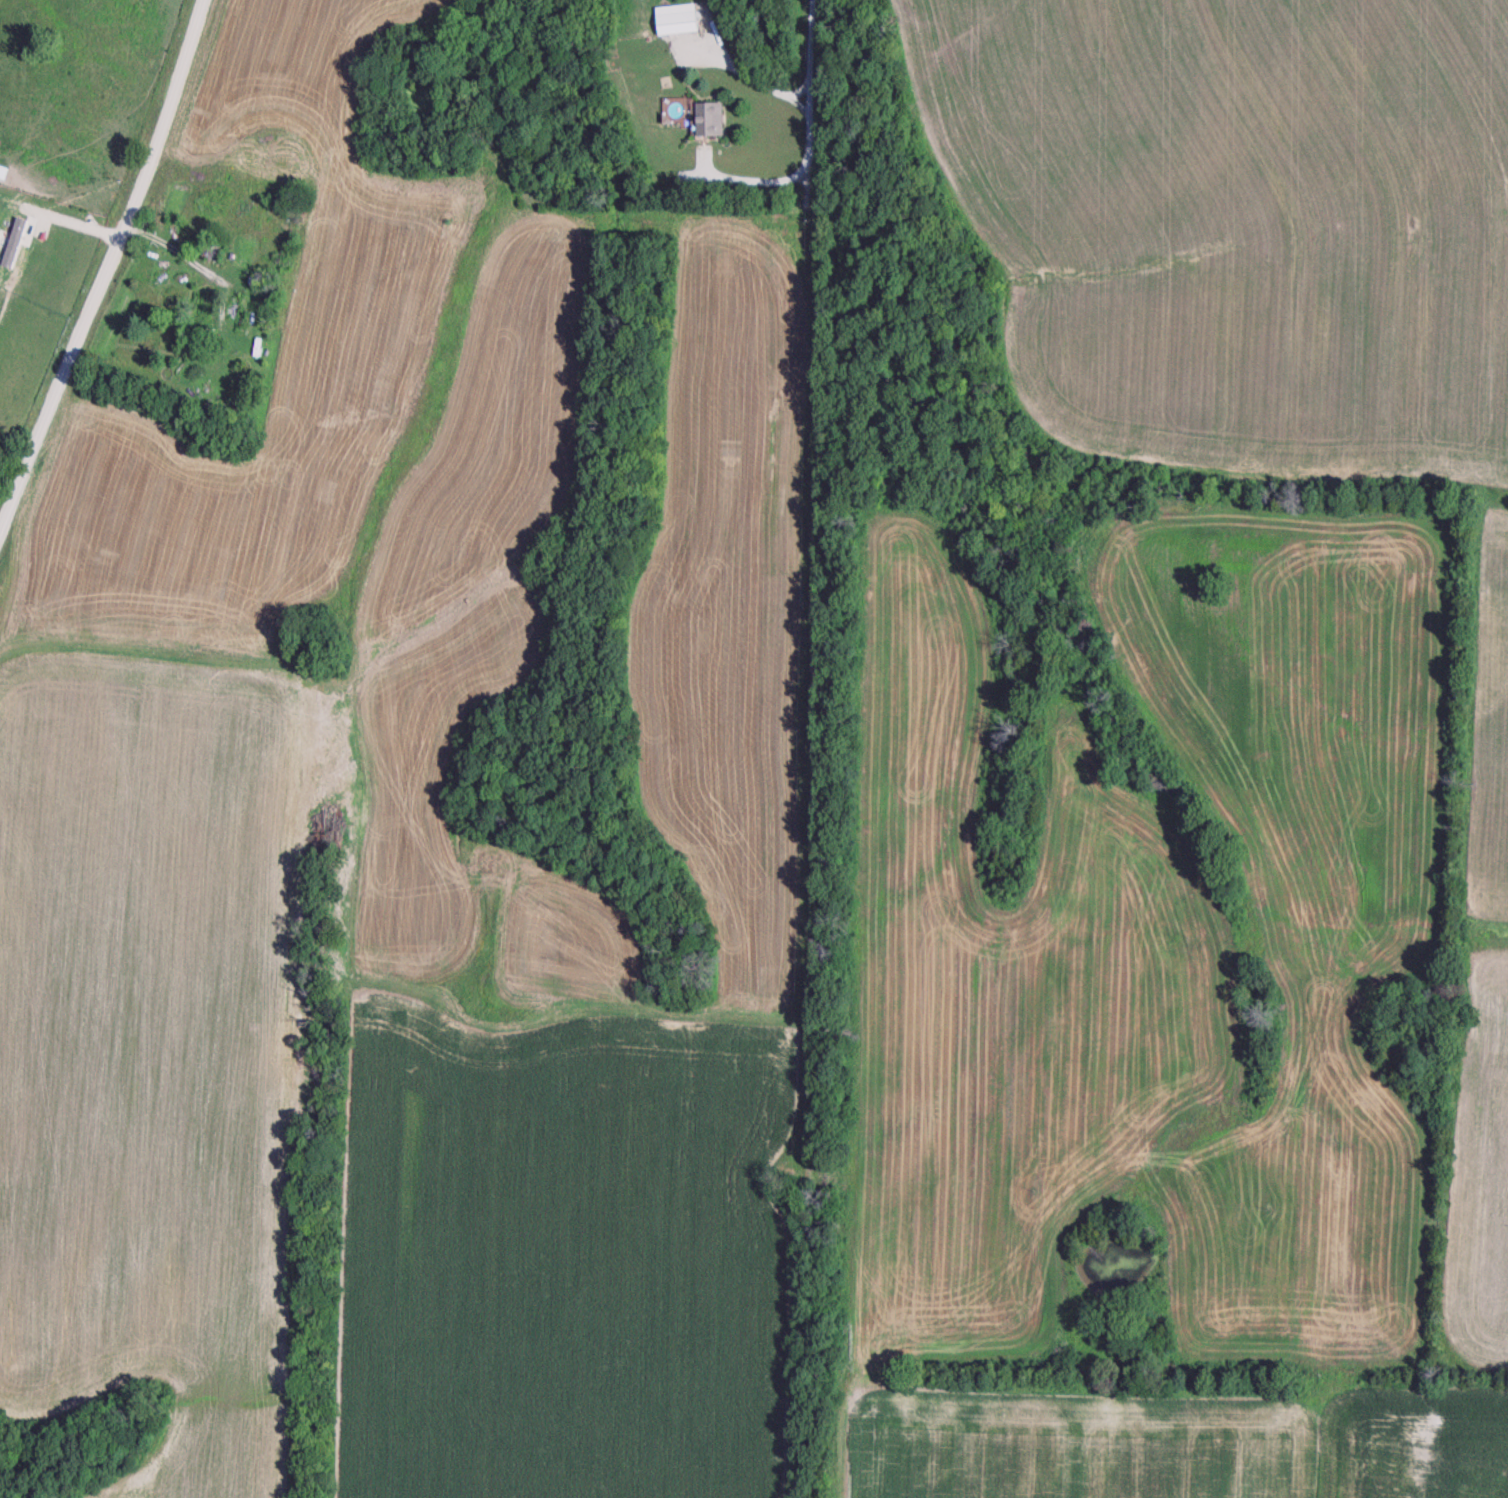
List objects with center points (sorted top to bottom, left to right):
building: (678, 22)
road: (790, 105)
building: (711, 122)
road: (782, 175)
building: (212, 253)
road: (190, 264)
road: (109, 268)

